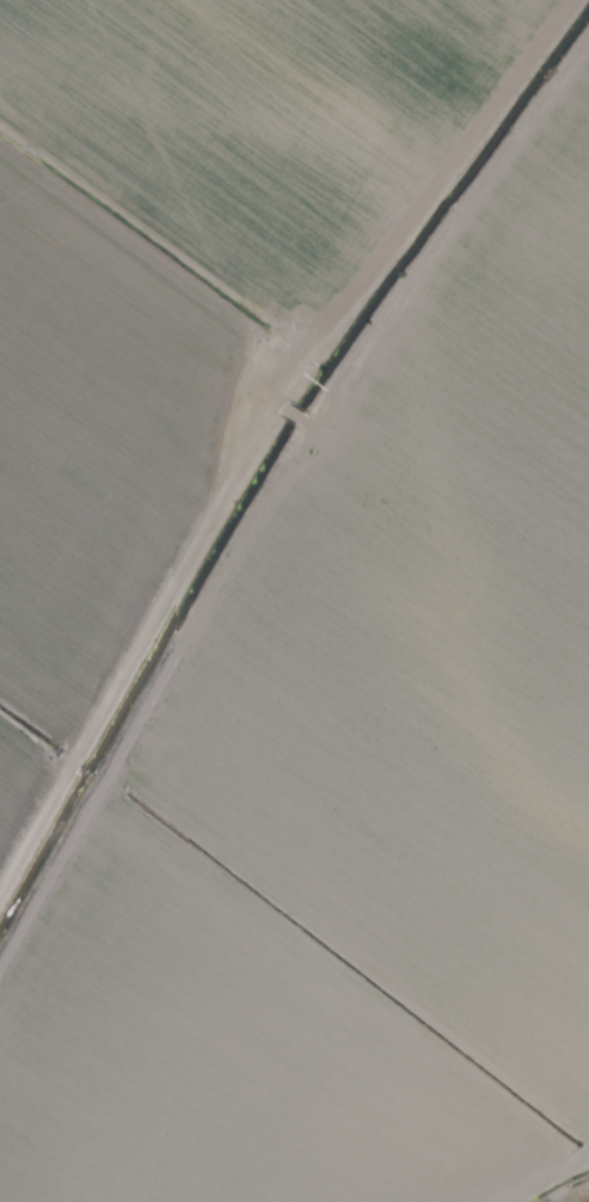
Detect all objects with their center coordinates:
road: (153, 229)
road: (292, 422)
road: (256, 425)
road: (320, 430)
crop: (294, 601)
road: (336, 1011)

